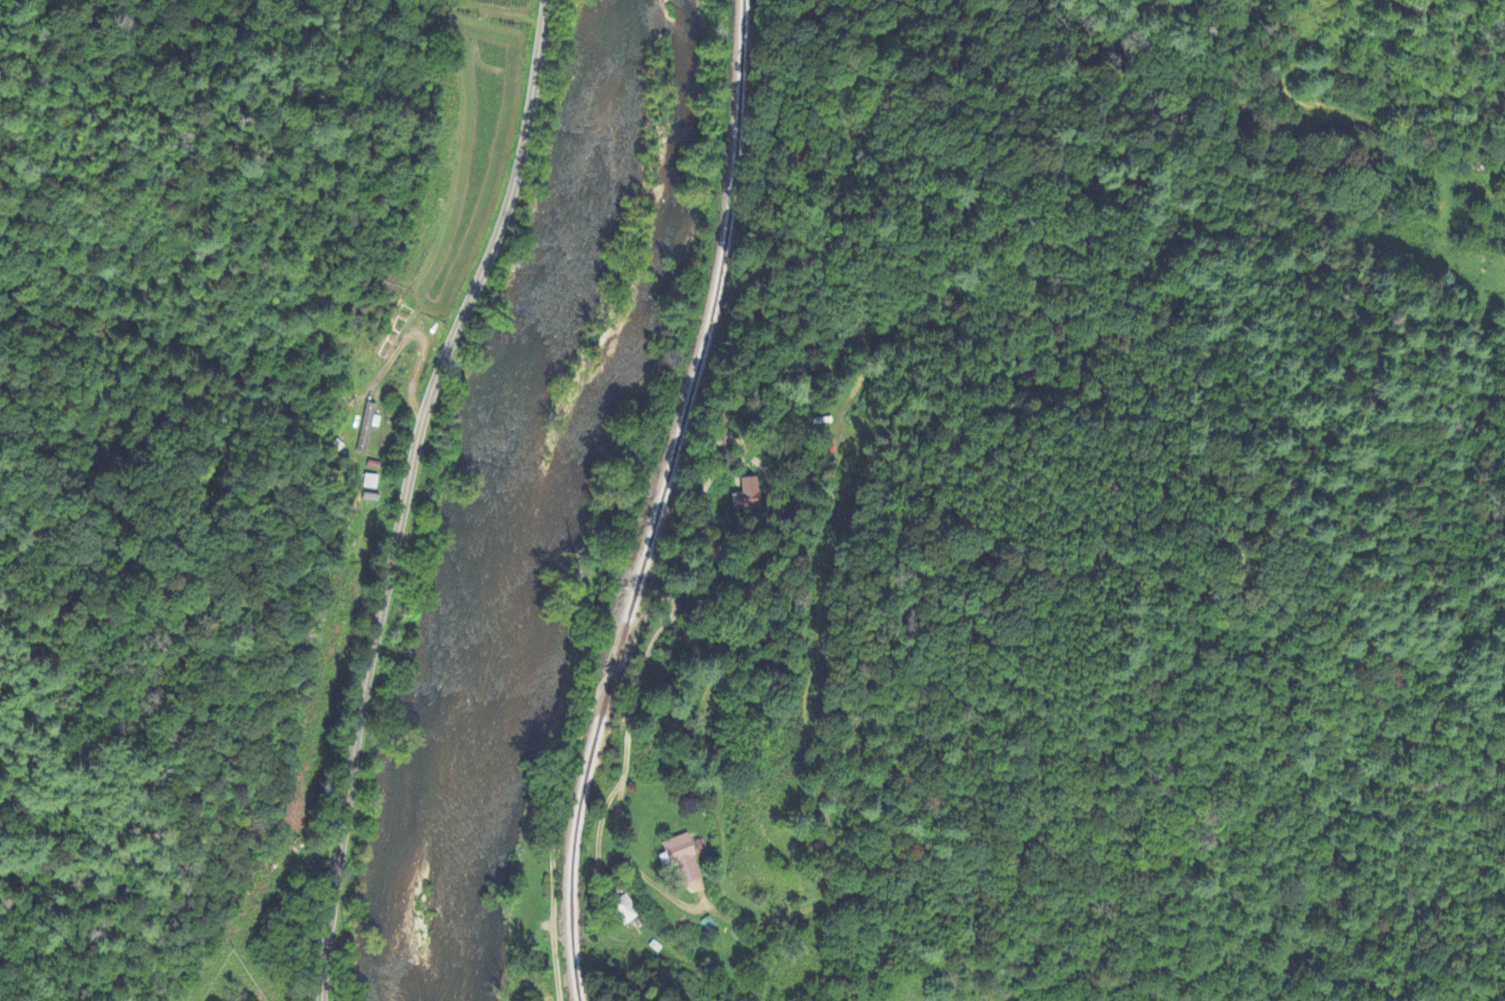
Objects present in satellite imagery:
building: (368, 427)
building: (369, 482)
river: (497, 490)
road: (406, 493)
building: (749, 495)
railway: (660, 502)
road: (634, 687)
road: (553, 839)
building: (682, 858)
building: (626, 909)

